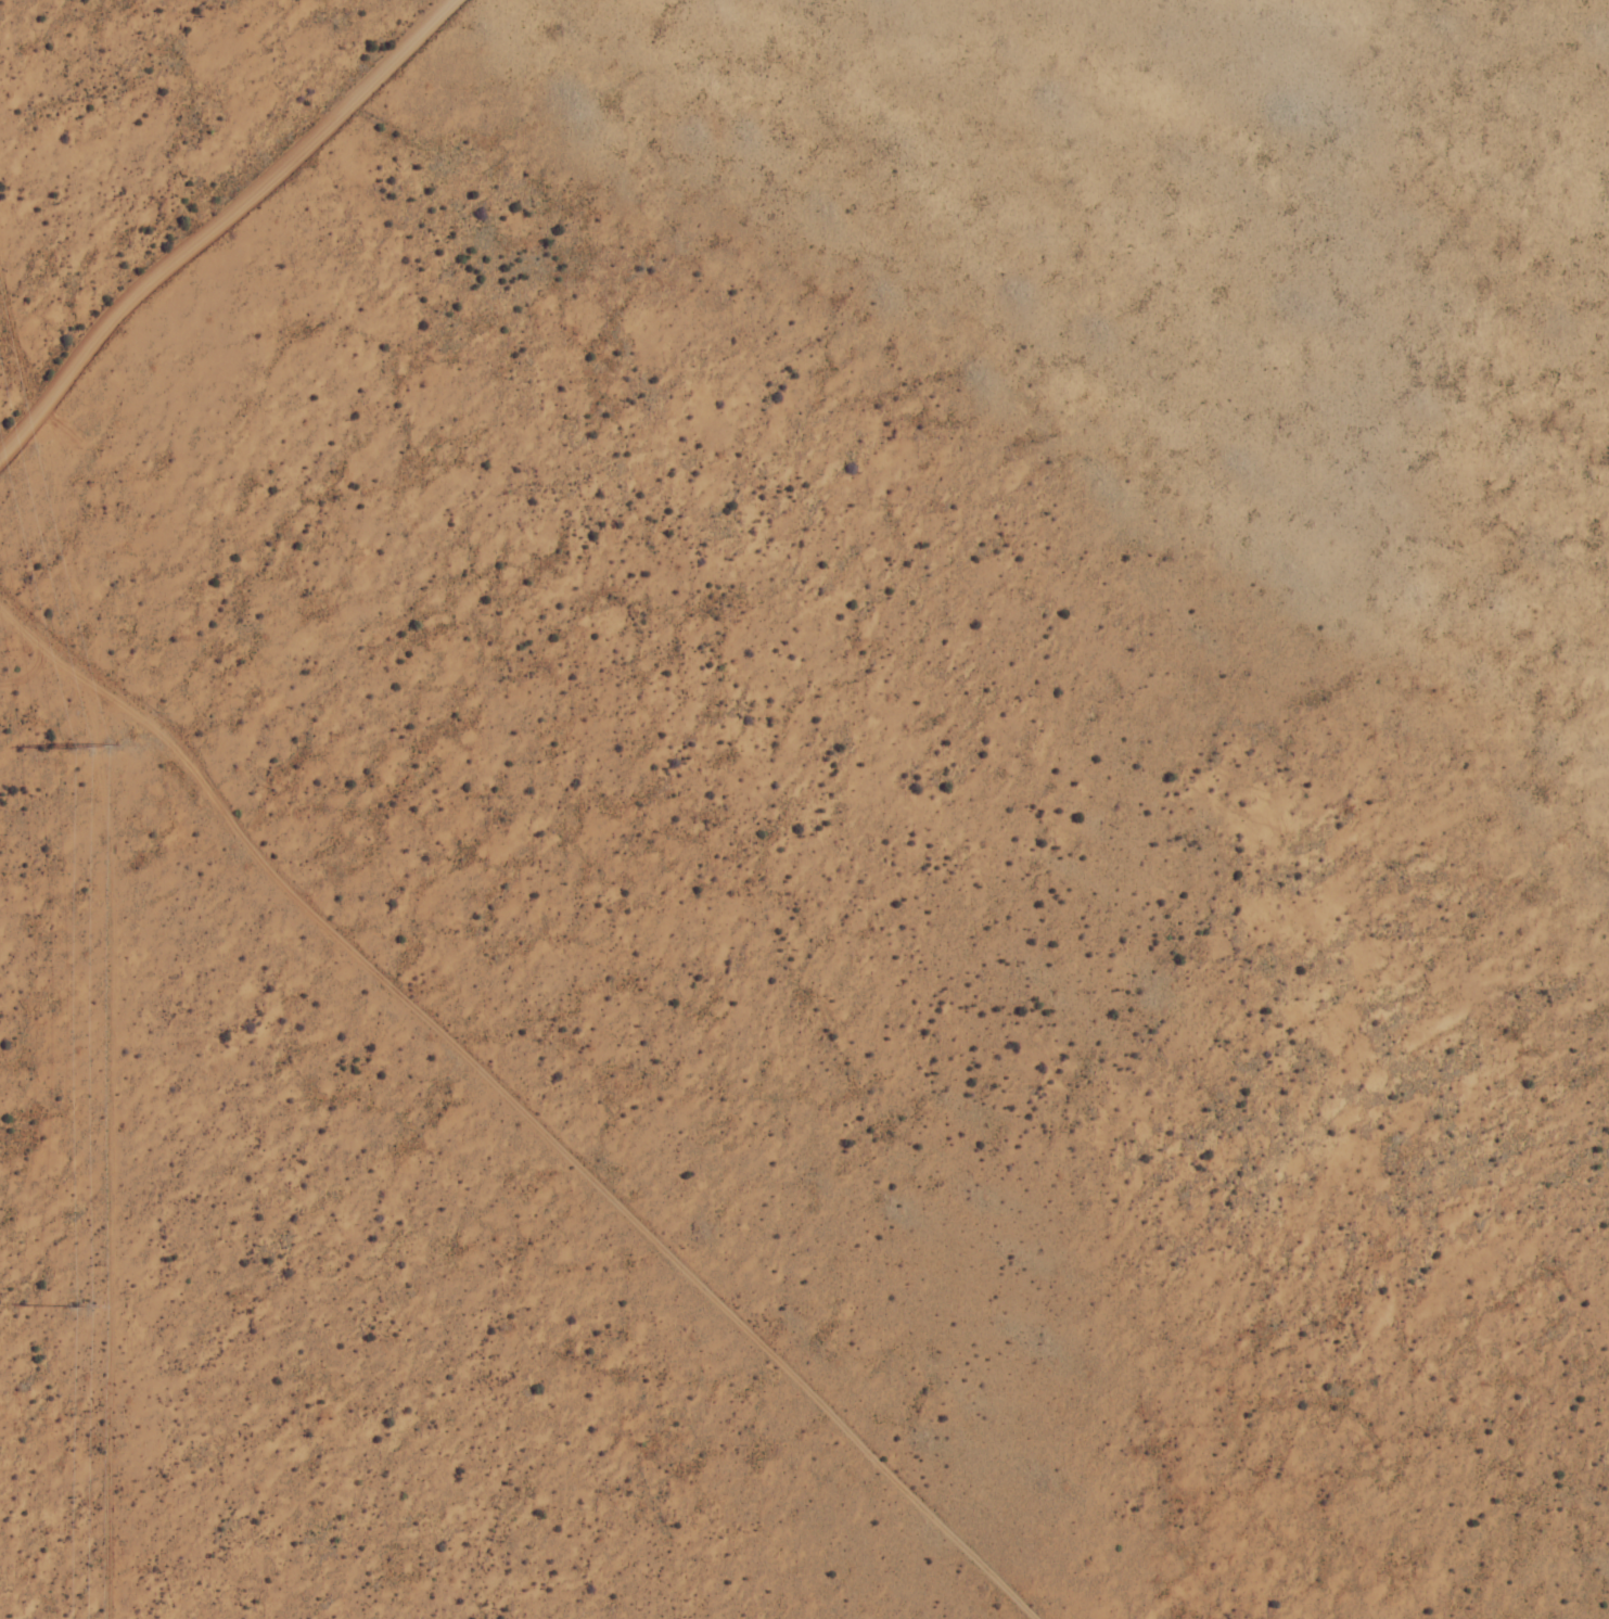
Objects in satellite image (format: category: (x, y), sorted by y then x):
road: (220, 222)
power tower: (69, 744)
road: (511, 1108)
power tower: (72, 1308)

